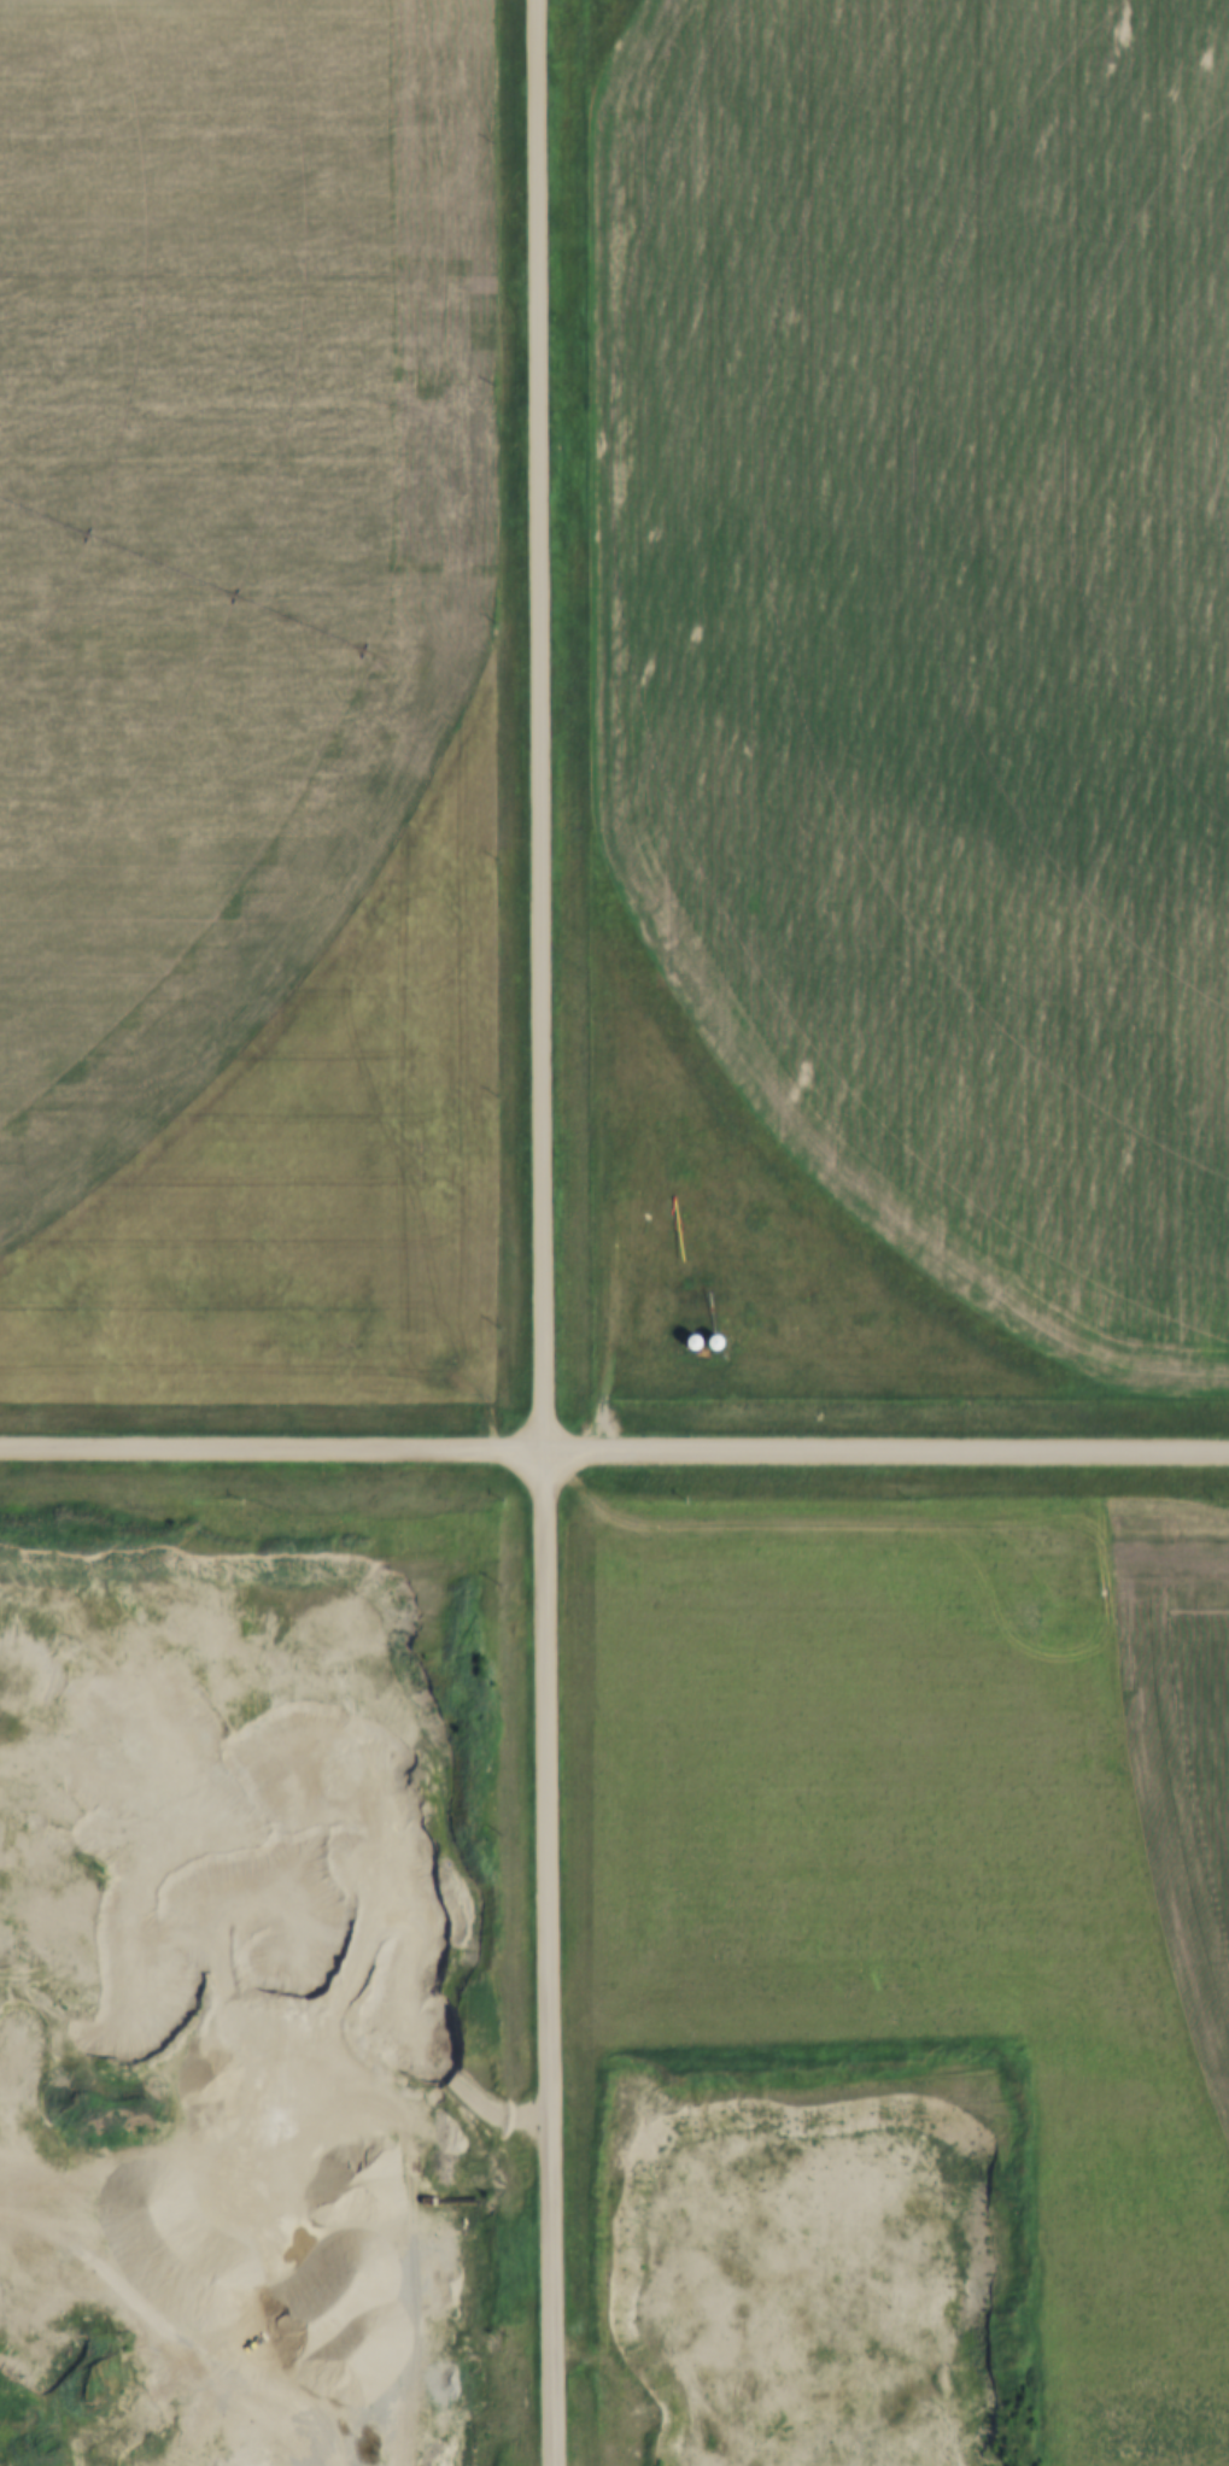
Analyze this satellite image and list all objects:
road: (539, 1232)
road: (614, 1451)
quarry: (248, 1969)

